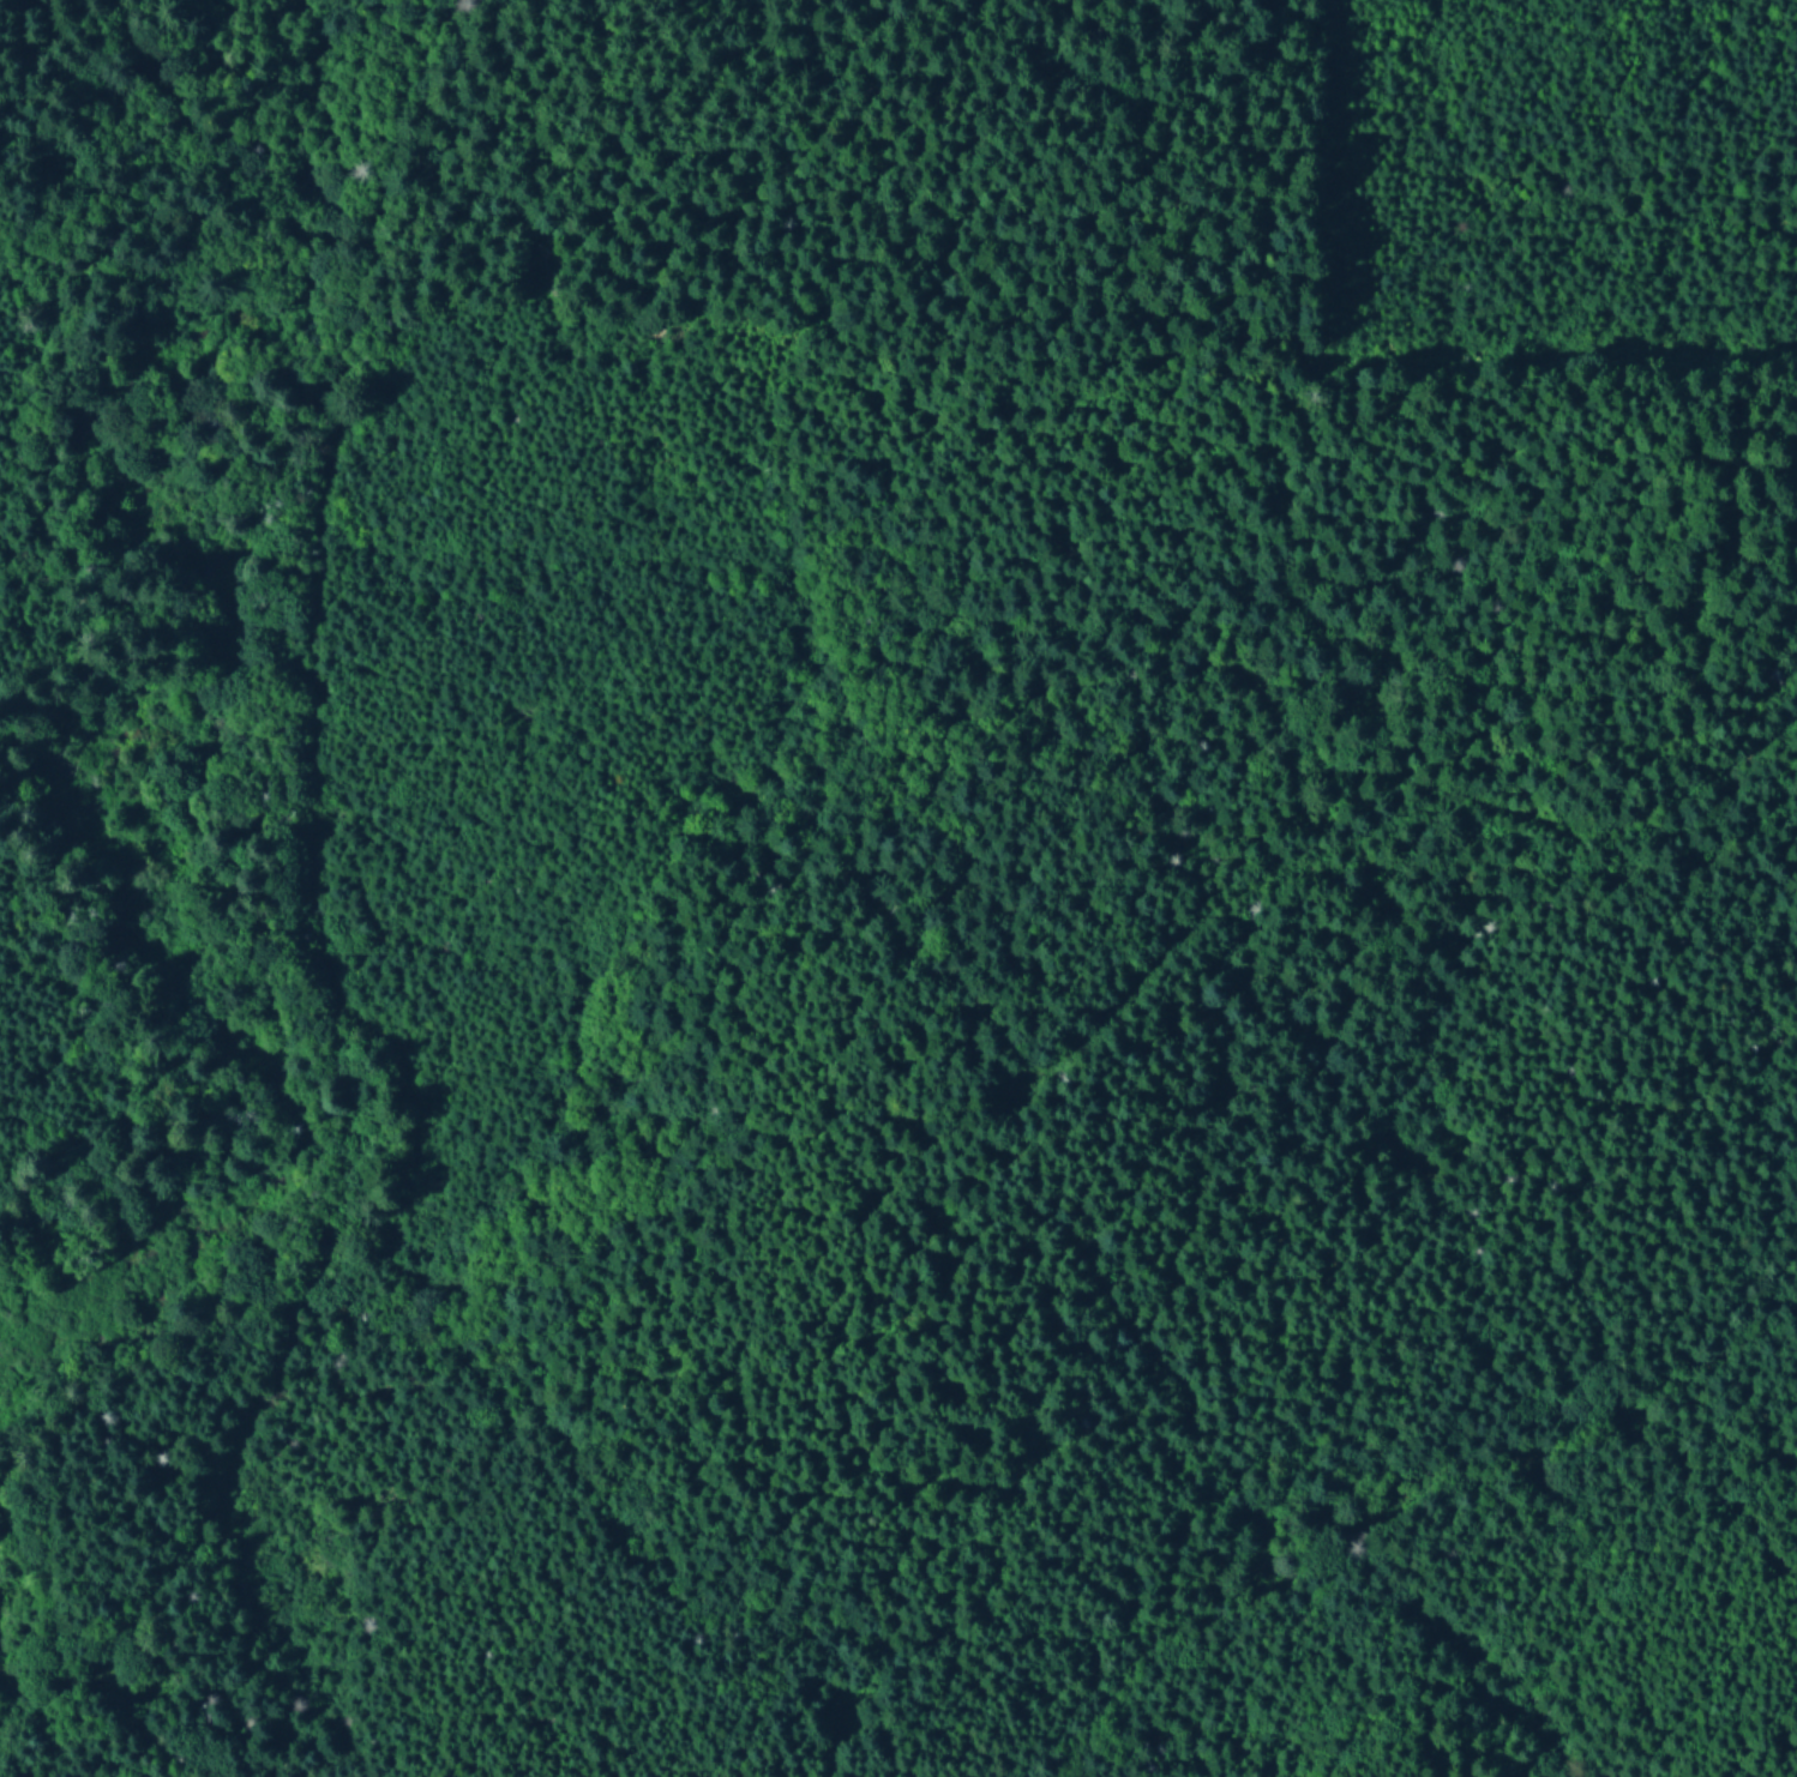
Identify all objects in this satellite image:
road: (1375, 829)
road: (325, 917)
road: (131, 1725)
road: (835, 1748)

